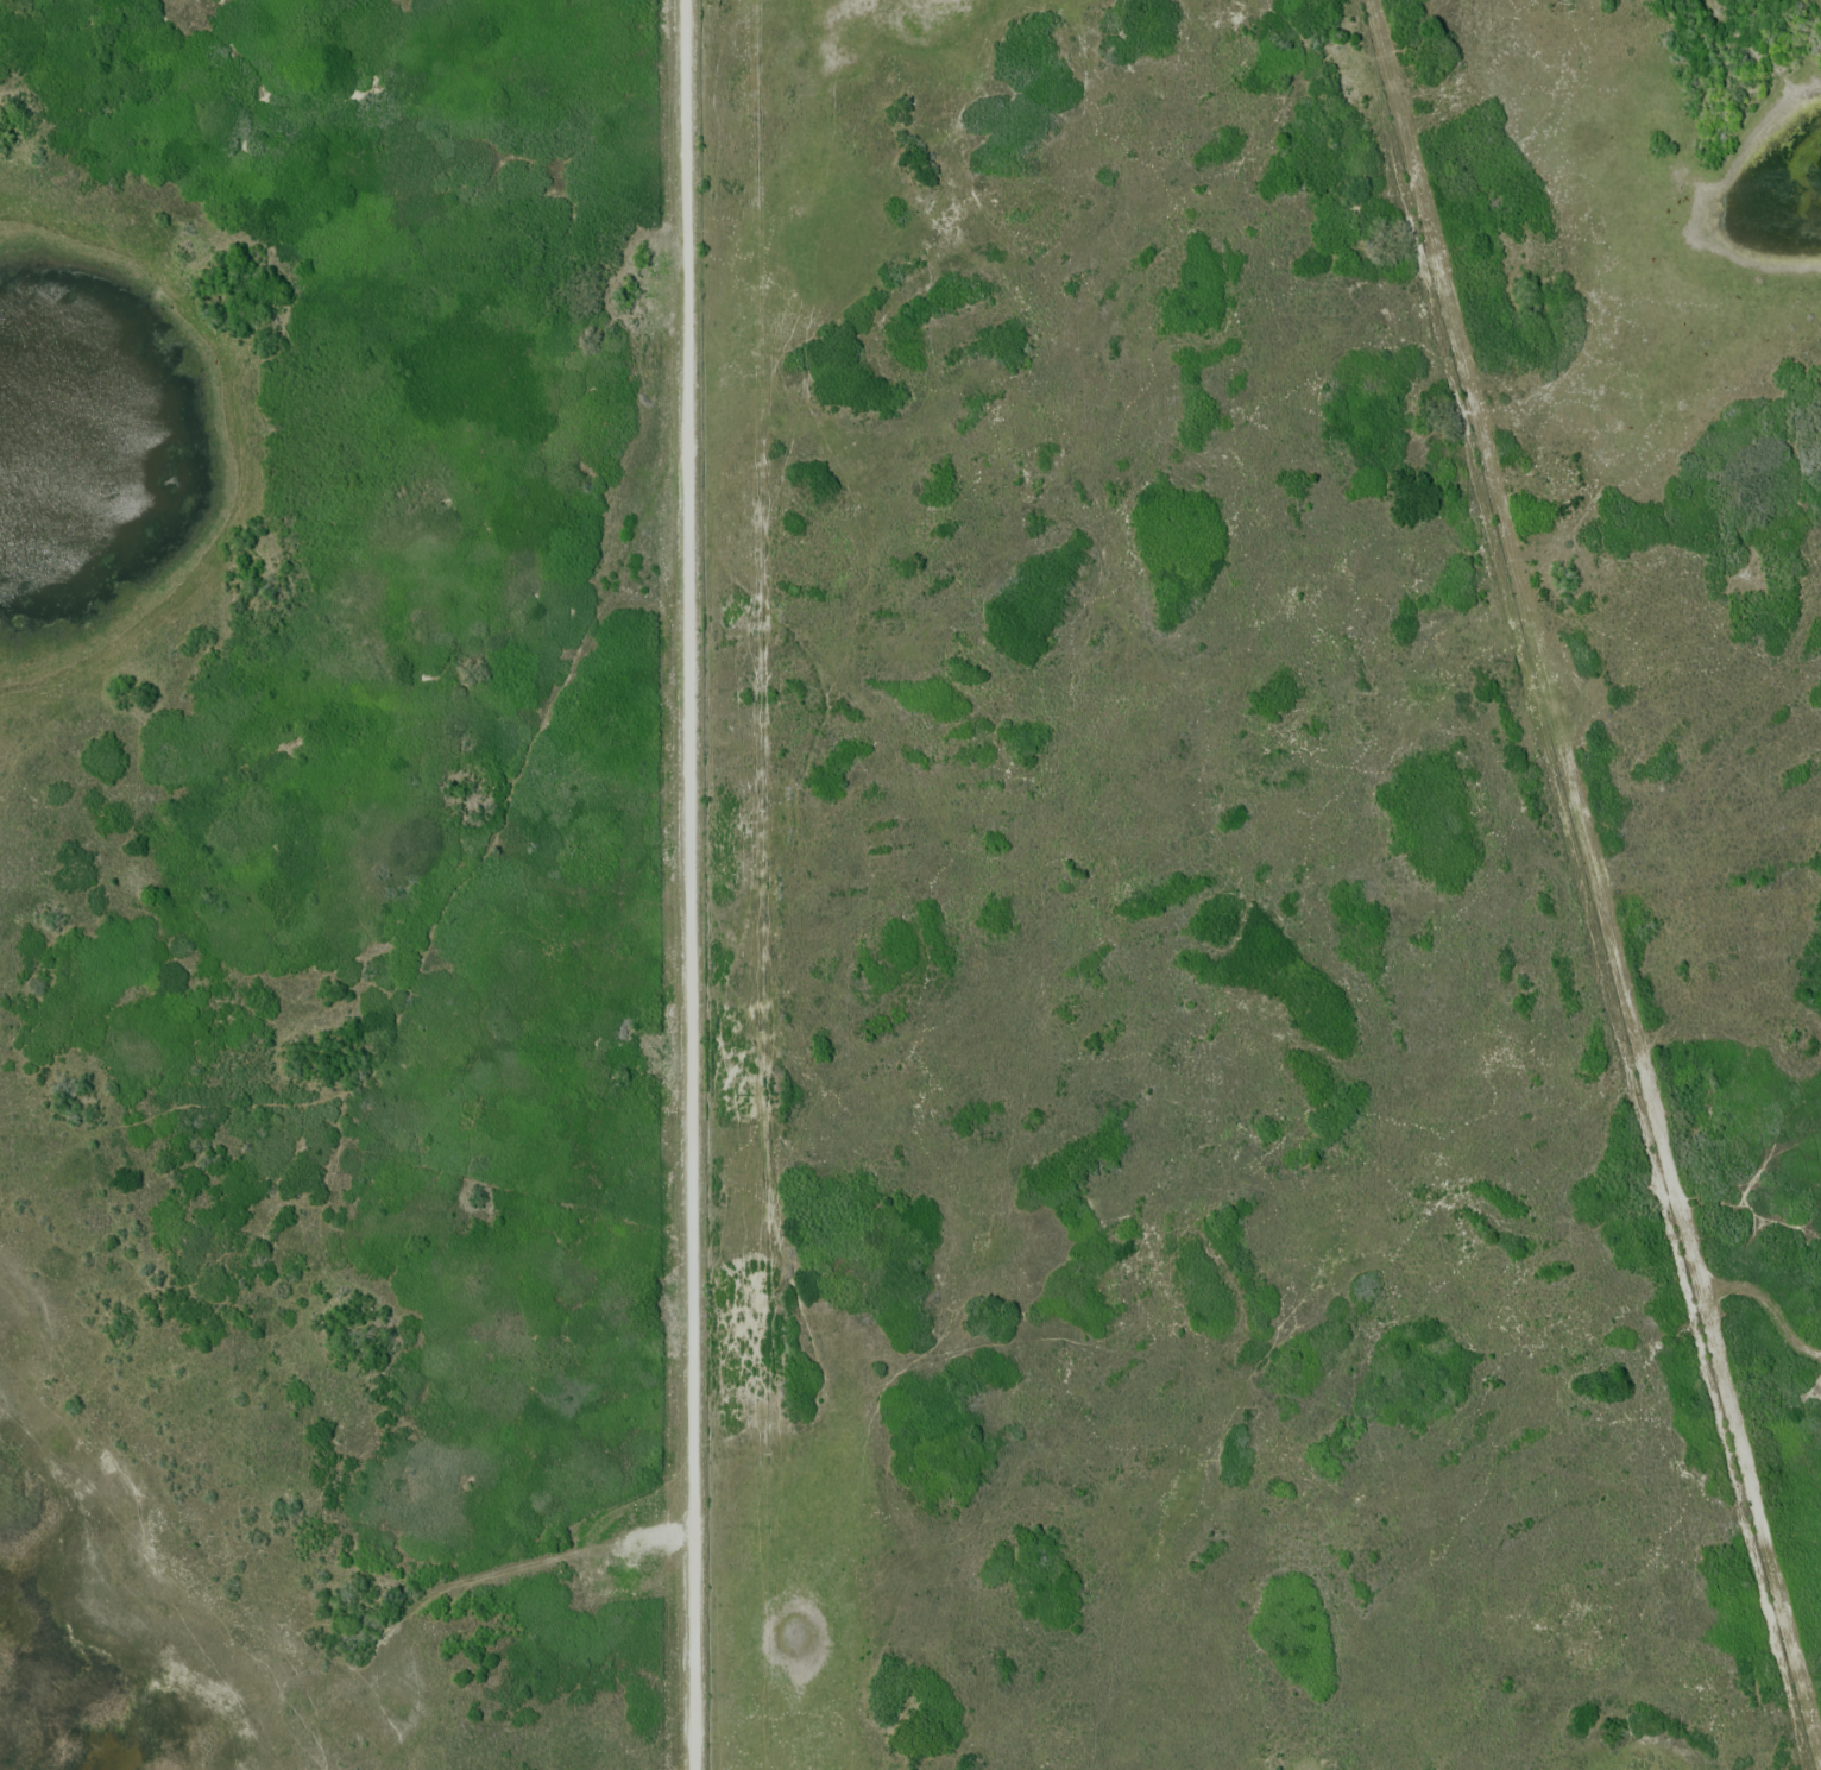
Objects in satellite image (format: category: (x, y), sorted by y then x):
road: (673, 884)

